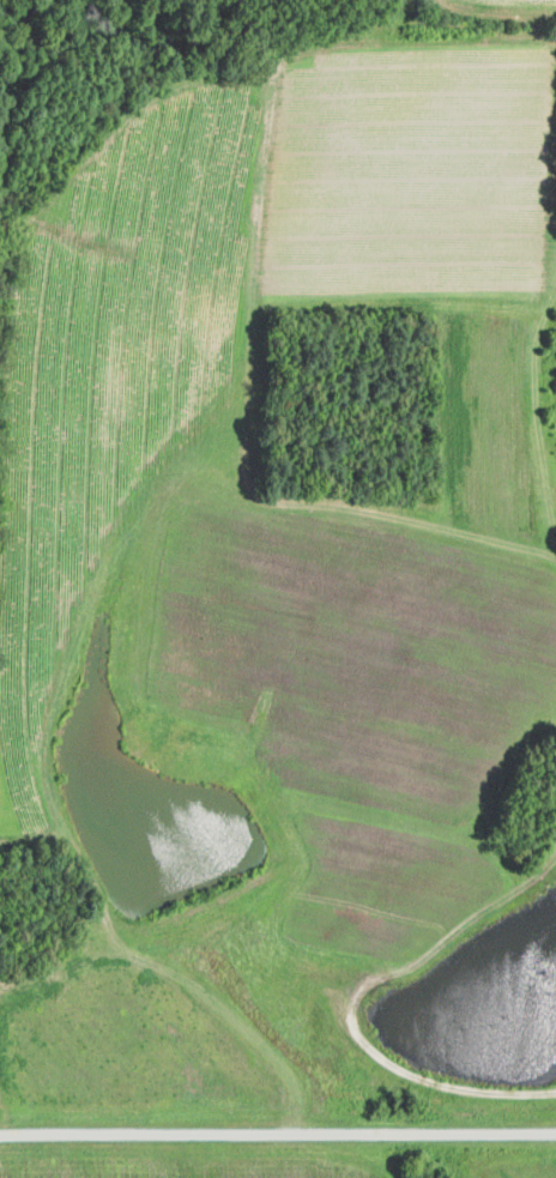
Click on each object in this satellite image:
road: (278, 1137)

